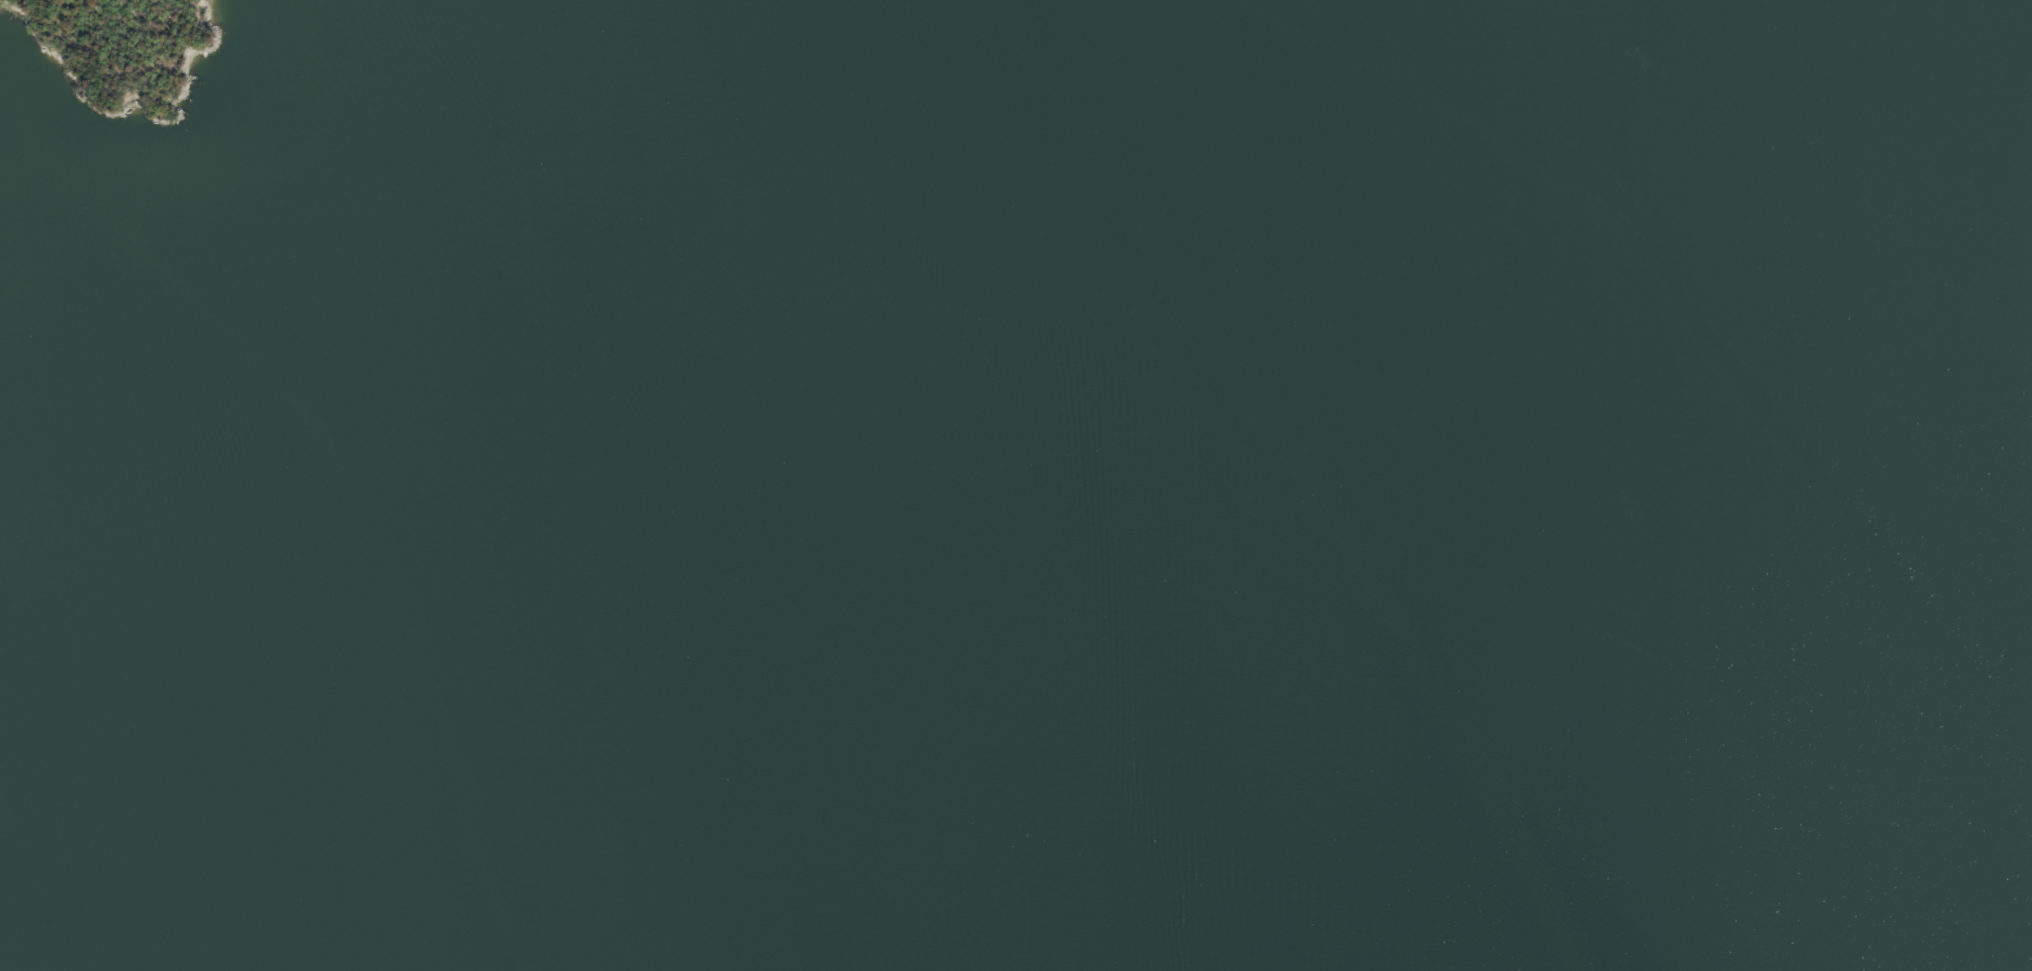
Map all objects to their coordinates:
park: (243, 175)

